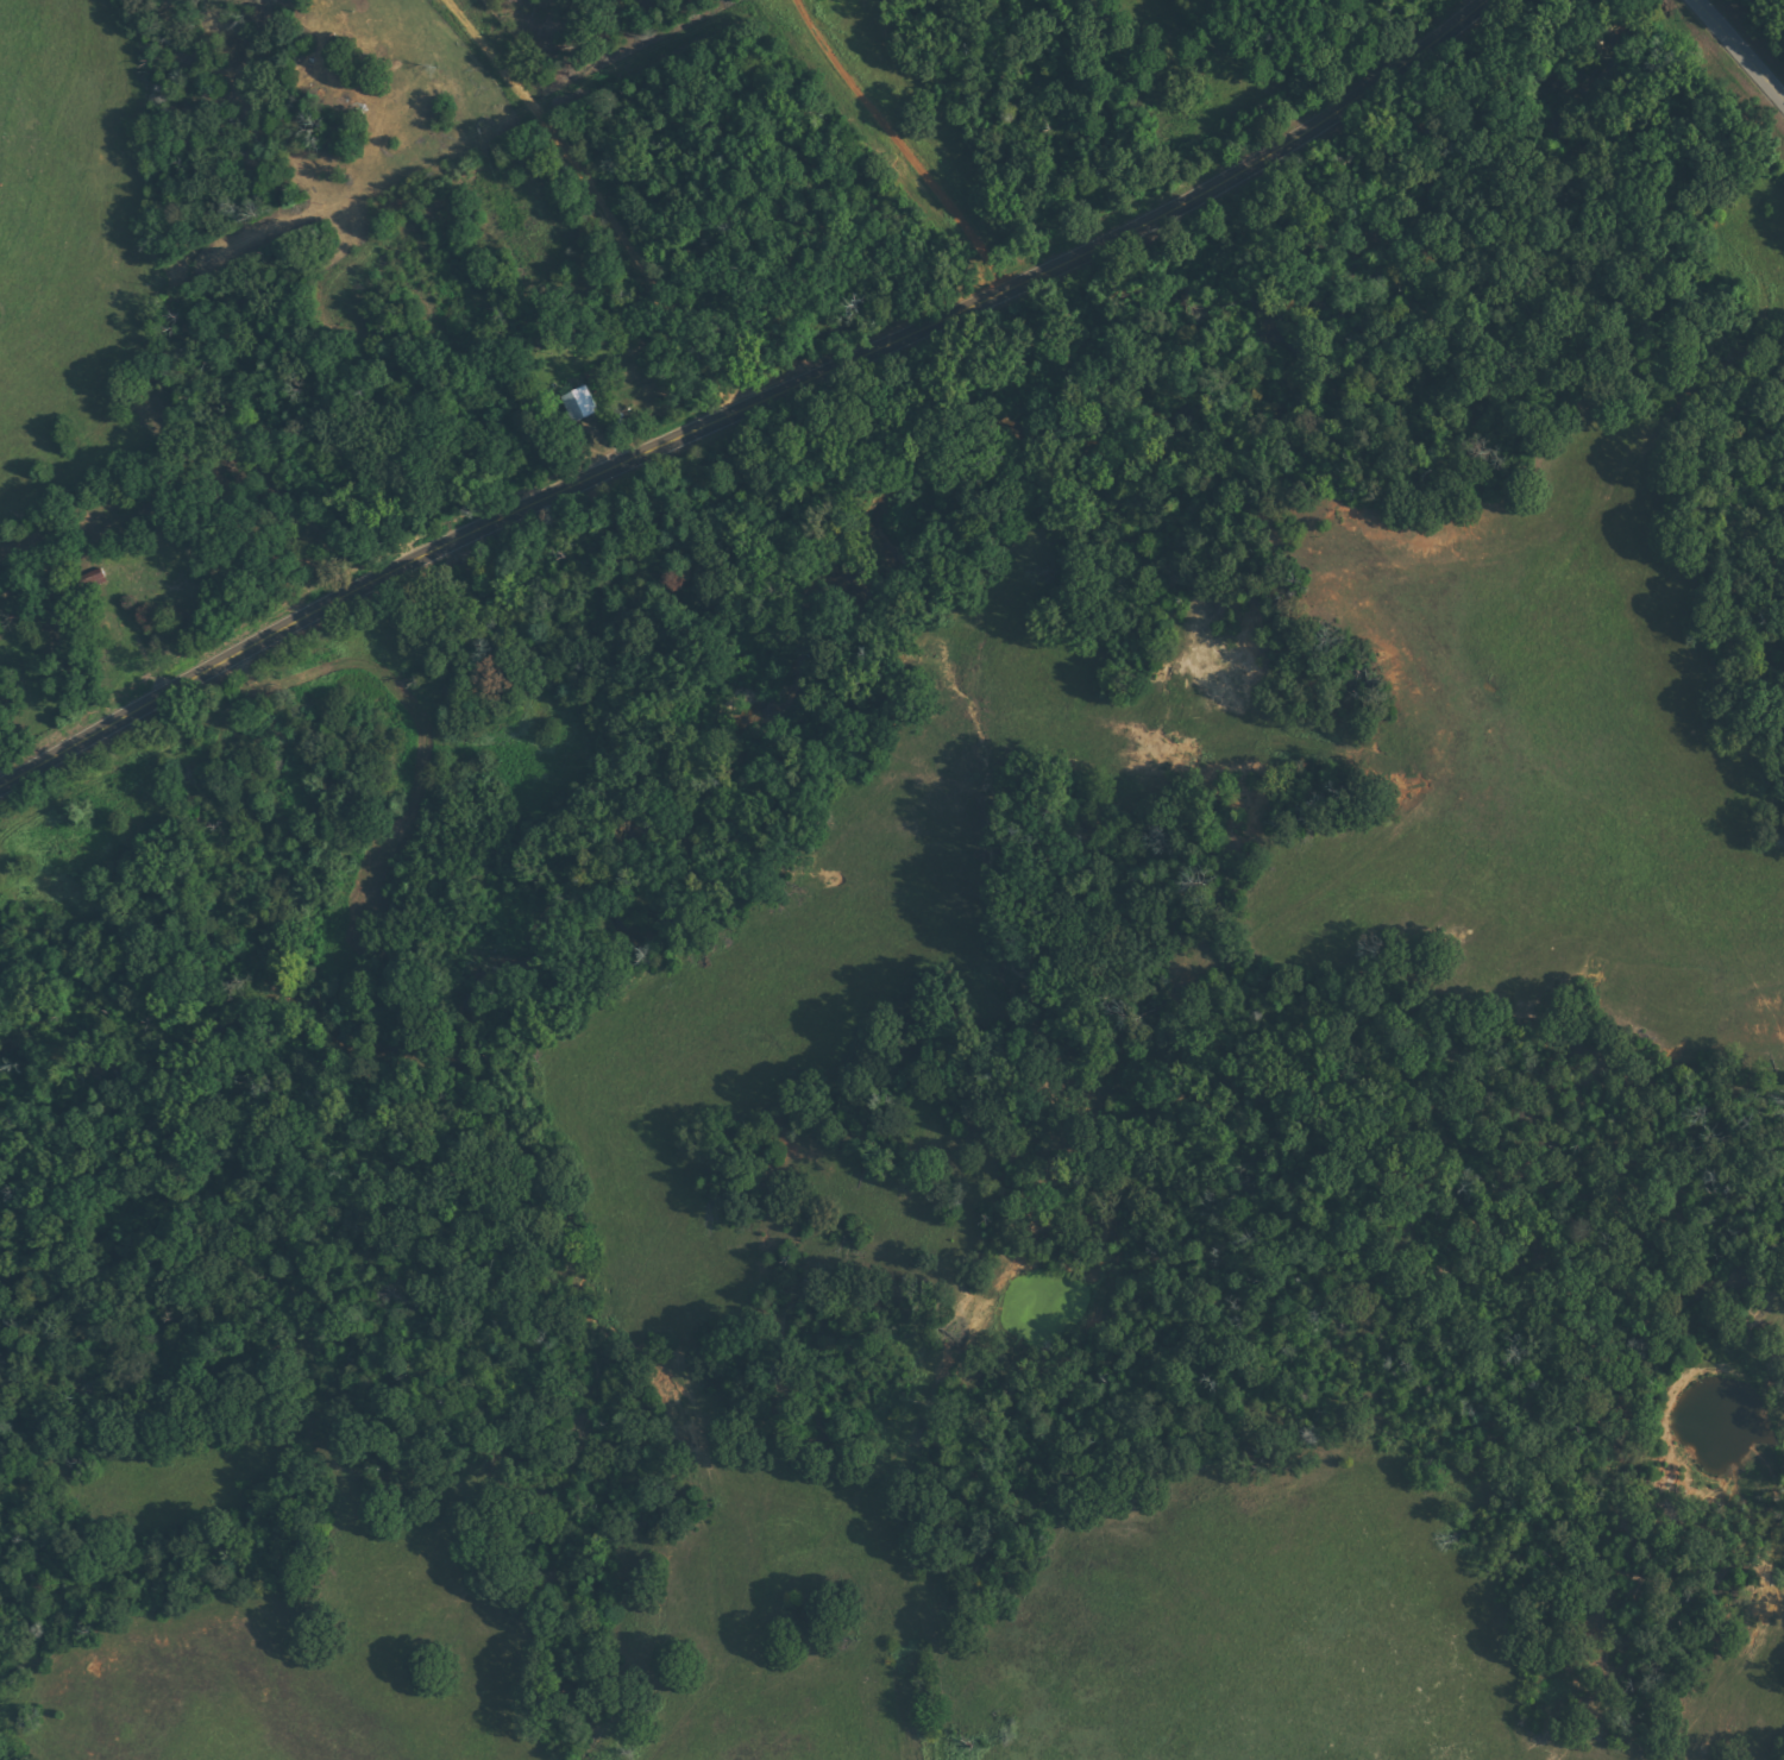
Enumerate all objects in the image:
road: (1738, 51)
building: (582, 404)
road: (755, 407)
road: (5, 769)

